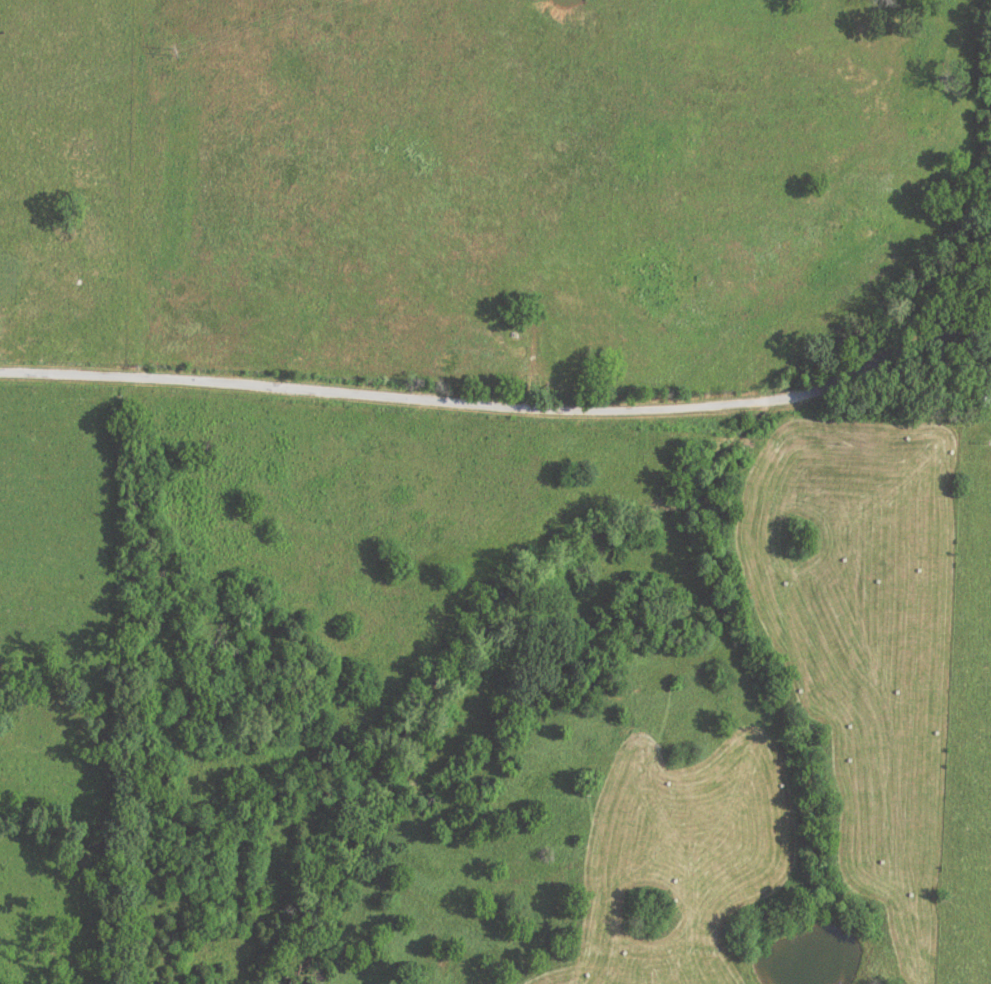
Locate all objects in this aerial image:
building: (487, 349)
road: (502, 408)

